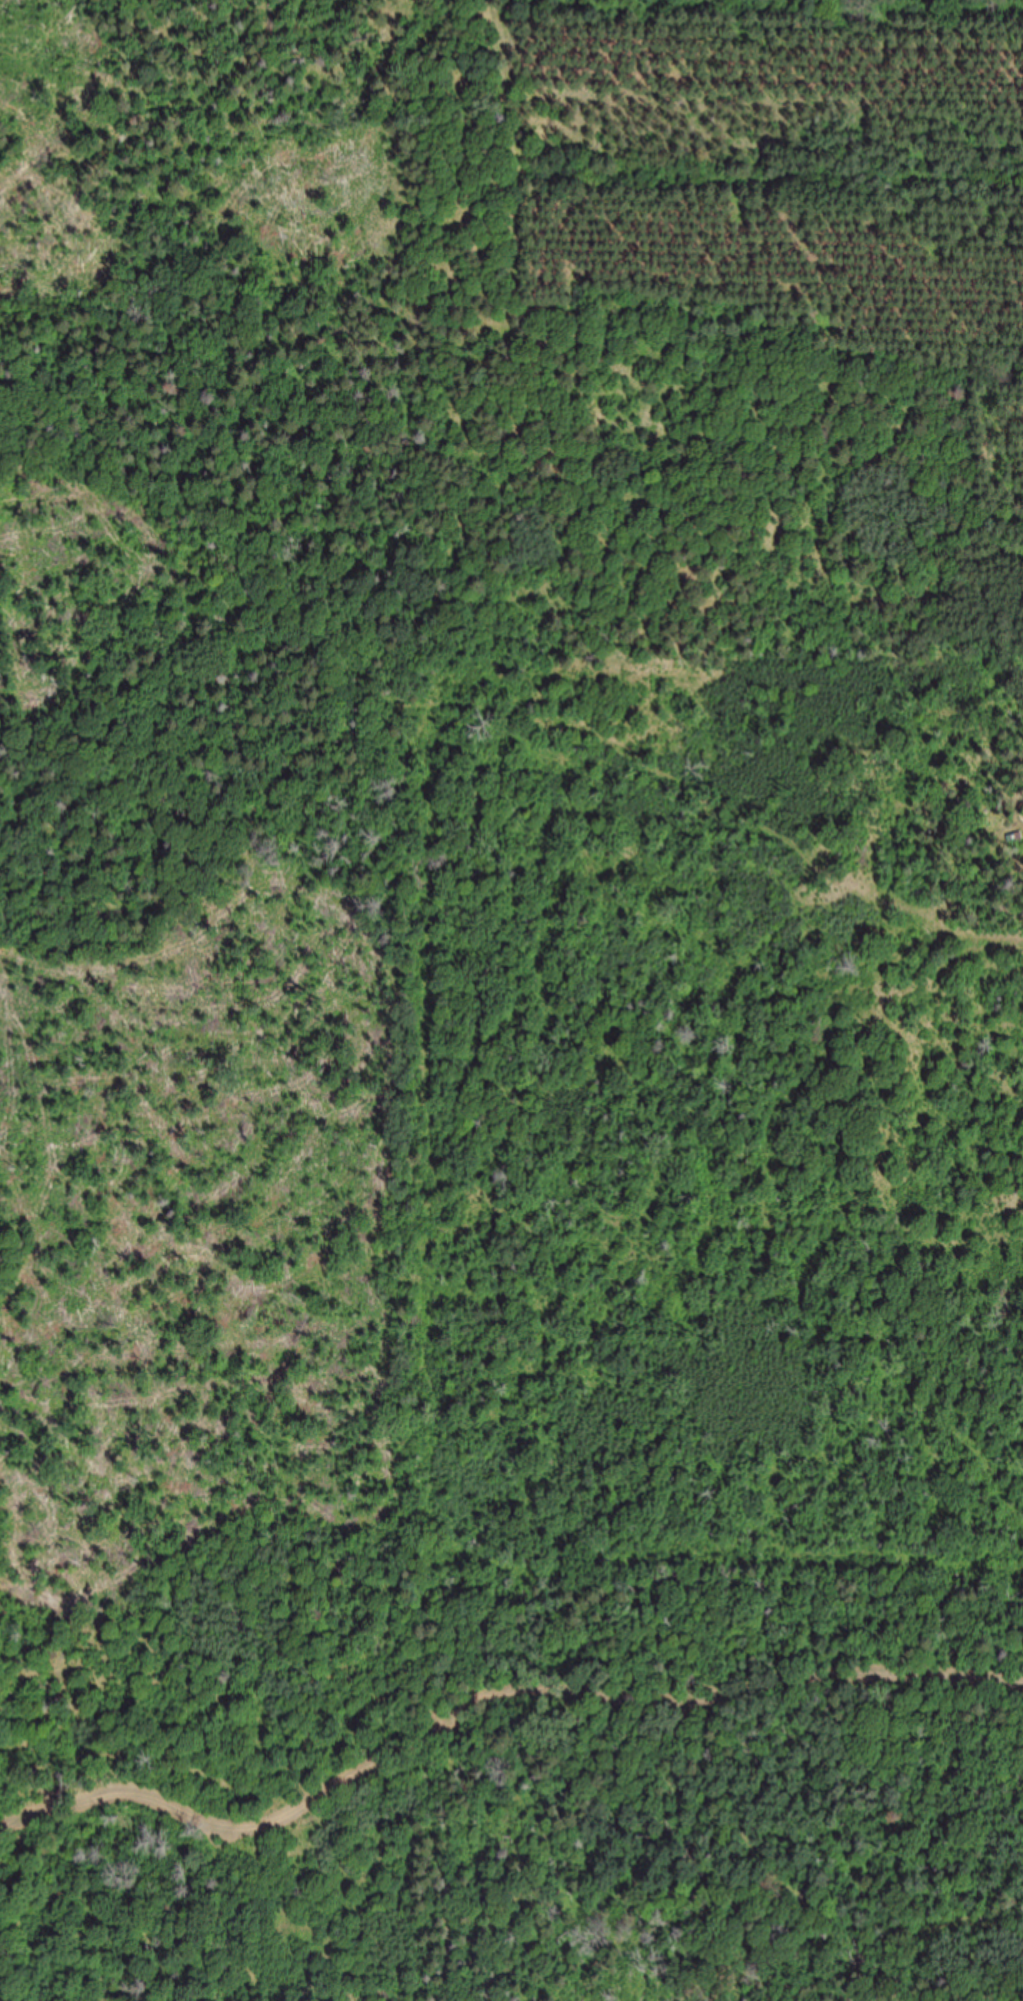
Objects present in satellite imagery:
road: (422, 290)

